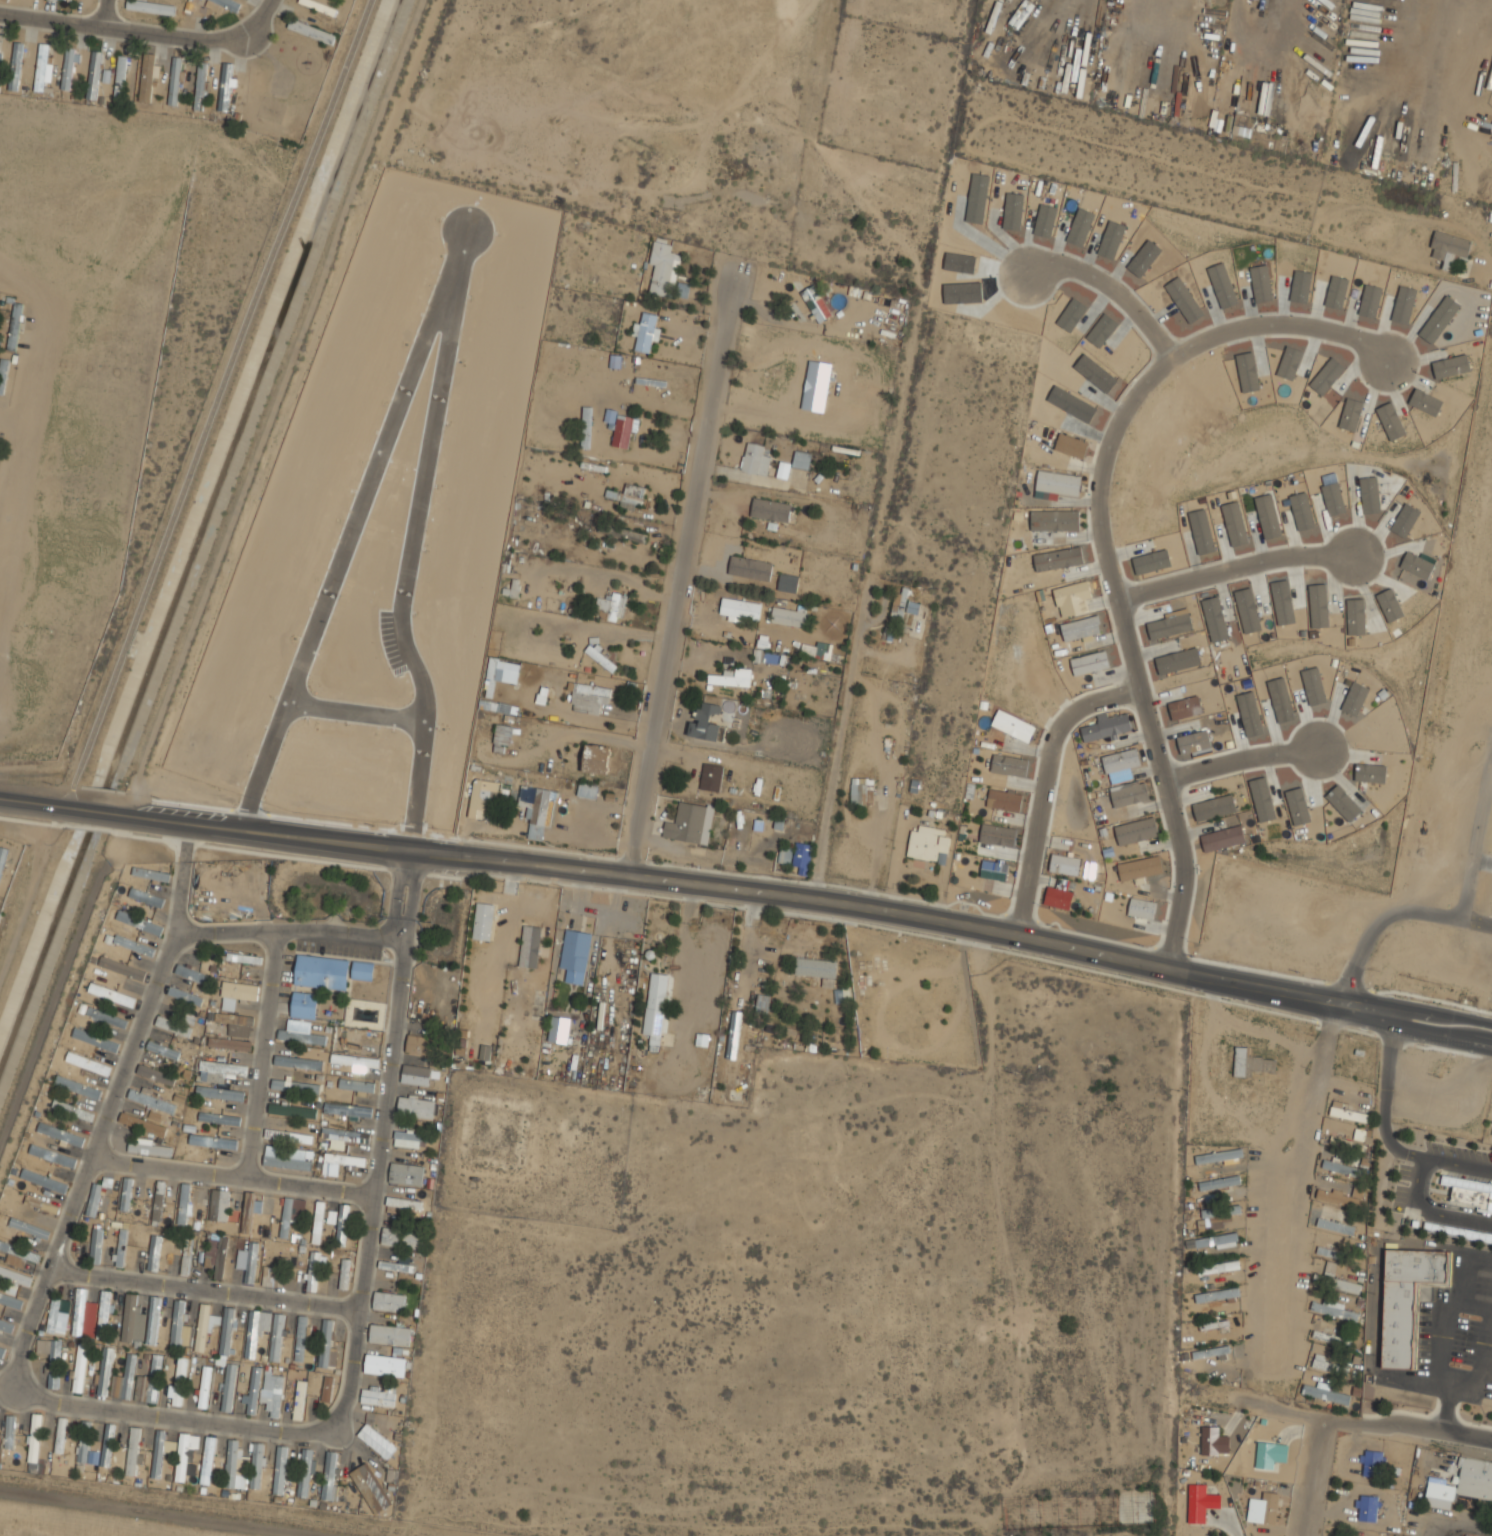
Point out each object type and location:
building: (224, 1)
building: (320, 6)
building: (153, 7)
road: (104, 13)
road: (260, 19)
building: (312, 31)
road: (120, 32)
building: (15, 65)
building: (41, 67)
building: (68, 68)
building: (93, 74)
building: (147, 77)
building: (120, 78)
building: (174, 81)
building: (225, 86)
building: (200, 87)
building: (1239, 124)
building: (1449, 247)
building: (663, 267)
road: (1115, 289)
building: (815, 303)
building: (15, 326)
building: (646, 331)
building: (3, 374)
road: (217, 404)
road: (31, 410)
building: (610, 417)
road: (14, 422)
building: (586, 427)
building: (622, 431)
building: (1070, 445)
building: (756, 458)
building: (801, 460)
building: (1058, 482)
building: (633, 492)
building: (770, 509)
building: (1055, 521)
building: (622, 533)
road: (410, 538)
road: (1105, 538)
road: (678, 554)
building: (1058, 559)
road: (342, 564)
building: (750, 565)
building: (1417, 565)
road: (1237, 568)
building: (788, 582)
building: (1072, 593)
building: (898, 605)
building: (1389, 605)
building: (1318, 606)
building: (611, 607)
building: (913, 607)
building: (737, 609)
building: (1355, 616)
building: (789, 617)
building: (1169, 626)
building: (1080, 628)
building: (821, 649)
building: (600, 656)
building: (766, 657)
building: (1178, 660)
building: (1089, 663)
building: (500, 674)
building: (729, 679)
building: (1313, 686)
building: (588, 697)
building: (541, 698)
building: (1354, 699)
building: (1280, 700)
building: (1184, 707)
road: (357, 713)
building: (1249, 714)
building: (705, 721)
building: (1013, 725)
building: (1105, 727)
building: (502, 739)
building: (1193, 741)
road: (1242, 759)
building: (596, 760)
building: (1121, 761)
building: (1009, 765)
road: (834, 768)
building: (1370, 773)
building: (711, 777)
road: (1045, 784)
building: (587, 790)
building: (862, 791)
building: (1129, 794)
building: (479, 797)
building: (1262, 799)
building: (1003, 800)
building: (1343, 803)
road: (35, 804)
road: (192, 804)
building: (1297, 806)
building: (1214, 807)
building: (537, 810)
road: (93, 812)
road: (249, 812)
road: (329, 822)
building: (690, 823)
building: (1137, 830)
building: (997, 835)
building: (1223, 838)
building: (928, 843)
building: (796, 856)
building: (3, 858)
building: (1065, 864)
building: (1140, 869)
building: (995, 870)
building: (151, 874)
road: (810, 890)
building: (146, 898)
building: (1058, 898)
building: (1141, 908)
road: (1445, 917)
building: (483, 921)
building: (139, 922)
road: (289, 929)
building: (134, 945)
building: (529, 946)
building: (574, 955)
building: (242, 957)
building: (816, 967)
building: (122, 968)
building: (363, 970)
building: (322, 972)
building: (193, 974)
building: (240, 990)
building: (842, 994)
building: (112, 995)
building: (185, 996)
building: (762, 1003)
building: (304, 1005)
building: (655, 1008)
building: (535, 1011)
building: (108, 1017)
building: (187, 1018)
building: (238, 1022)
building: (173, 1026)
building: (559, 1029)
building: (733, 1034)
building: (302, 1037)
building: (95, 1039)
building: (229, 1044)
building: (419, 1044)
building: (164, 1050)
road: (262, 1052)
building: (485, 1052)
building: (726, 1057)
building: (88, 1061)
building: (298, 1062)
building: (1250, 1062)
building: (357, 1064)
building: (219, 1070)
building: (415, 1074)
building: (156, 1075)
building: (356, 1085)
building: (296, 1086)
road: (1388, 1088)
building: (220, 1093)
building: (152, 1100)
building: (63, 1103)
building: (416, 1107)
building: (348, 1110)
building: (293, 1111)
building: (1349, 1114)
building: (220, 1118)
building: (142, 1123)
building: (61, 1134)
building: (288, 1134)
building: (347, 1136)
building: (411, 1139)
building: (214, 1142)
building: (1347, 1143)
building: (150, 1147)
building: (53, 1155)
building: (1218, 1155)
road: (1412, 1155)
building: (287, 1157)
building: (347, 1160)
building: (1341, 1168)
road: (232, 1174)
building: (406, 1174)
building: (44, 1181)
building: (107, 1182)
building: (1219, 1182)
road: (1415, 1182)
building: (1469, 1192)
building: (127, 1194)
building: (1340, 1199)
building: (94, 1200)
road: (1285, 1201)
building: (159, 1202)
building: (405, 1203)
building: (42, 1204)
building: (184, 1204)
building: (220, 1205)
building: (1220, 1211)
building: (250, 1212)
building: (290, 1214)
building: (331, 1217)
building: (319, 1222)
building: (342, 1224)
building: (1335, 1226)
building: (29, 1228)
building: (1448, 1230)
building: (403, 1238)
building: (1215, 1240)
building: (95, 1246)
building: (121, 1246)
building: (1332, 1252)
building: (154, 1253)
building: (18, 1254)
building: (187, 1257)
building: (221, 1258)
building: (208, 1259)
building: (250, 1261)
building: (181, 1262)
building: (398, 1264)
building: (1218, 1267)
building: (313, 1270)
building: (276, 1274)
building: (345, 1274)
building: (15, 1275)
building: (1336, 1283)
building: (11, 1287)
road: (204, 1289)
building: (1216, 1294)
building: (1407, 1300)
building: (11, 1301)
building: (389, 1301)
road: (1449, 1308)
building: (1334, 1310)
building: (79, 1312)
building: (104, 1314)
building: (53, 1315)
building: (133, 1319)
building: (153, 1320)
building: (7, 1325)
building: (1213, 1325)
building: (180, 1327)
building: (202, 1327)
building: (227, 1330)
building: (255, 1330)
building: (390, 1335)
building: (276, 1337)
building: (1331, 1338)
building: (301, 1339)
building: (326, 1343)
building: (3, 1351)
building: (1210, 1352)
road: (1482, 1355)
building: (51, 1358)
building: (332, 1359)
building: (384, 1364)
building: (1330, 1366)
building: (80, 1367)
building: (104, 1371)
building: (125, 1379)
building: (150, 1381)
building: (179, 1381)
building: (204, 1387)
building: (228, 1388)
building: (327, 1388)
building: (253, 1390)
building: (1326, 1394)
building: (380, 1396)
building: (275, 1397)
building: (299, 1400)
road: (1445, 1410)
road: (168, 1418)
road: (1337, 1421)
building: (10, 1432)
building: (60, 1435)
building: (35, 1438)
building: (1210, 1440)
building: (377, 1441)
building: (84, 1442)
building: (107, 1444)
building: (133, 1451)
building: (158, 1453)
building: (1271, 1454)
building: (93, 1457)
building: (182, 1457)
building: (208, 1460)
building: (1374, 1463)
building: (231, 1464)
building: (257, 1466)
building: (280, 1470)
building: (303, 1472)
building: (329, 1475)
road: (1306, 1477)
building: (1463, 1484)
building: (370, 1488)
building: (1200, 1503)
building: (1269, 1508)
building: (1368, 1508)
road: (160, 1512)
dam: (136, 1516)

